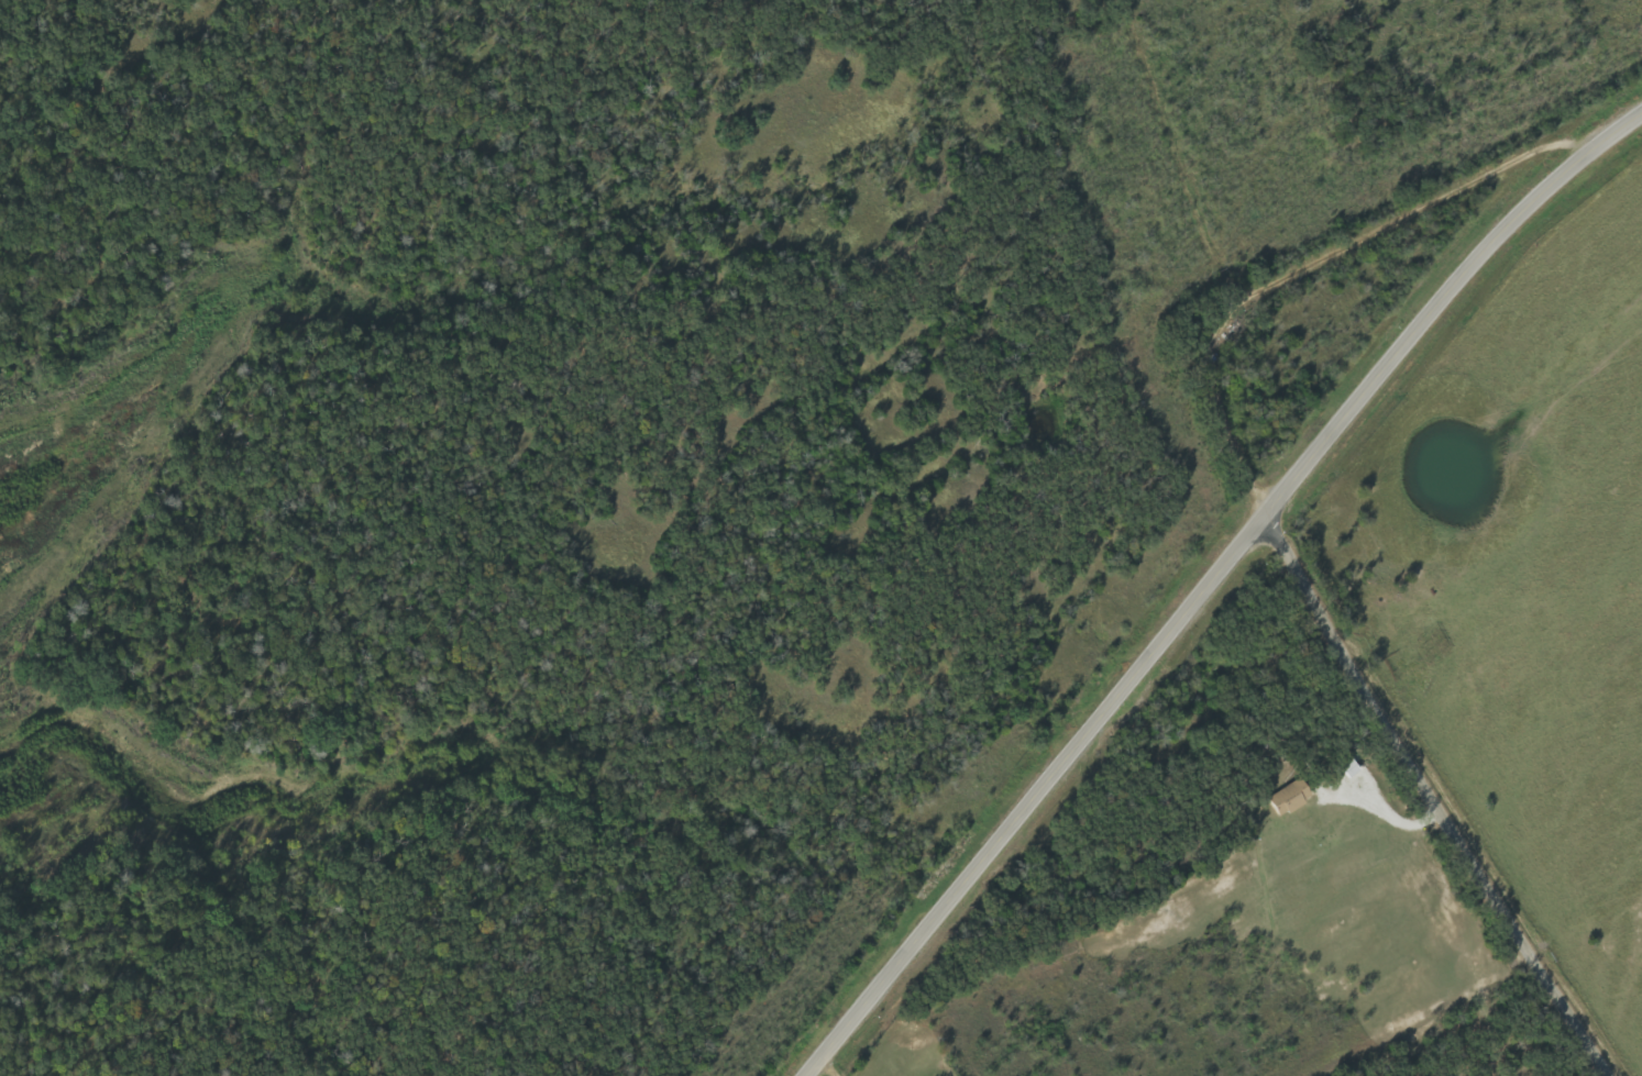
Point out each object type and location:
road: (1177, 156)
road: (1263, 517)
road: (1216, 584)
building: (1354, 768)
building: (1294, 797)

